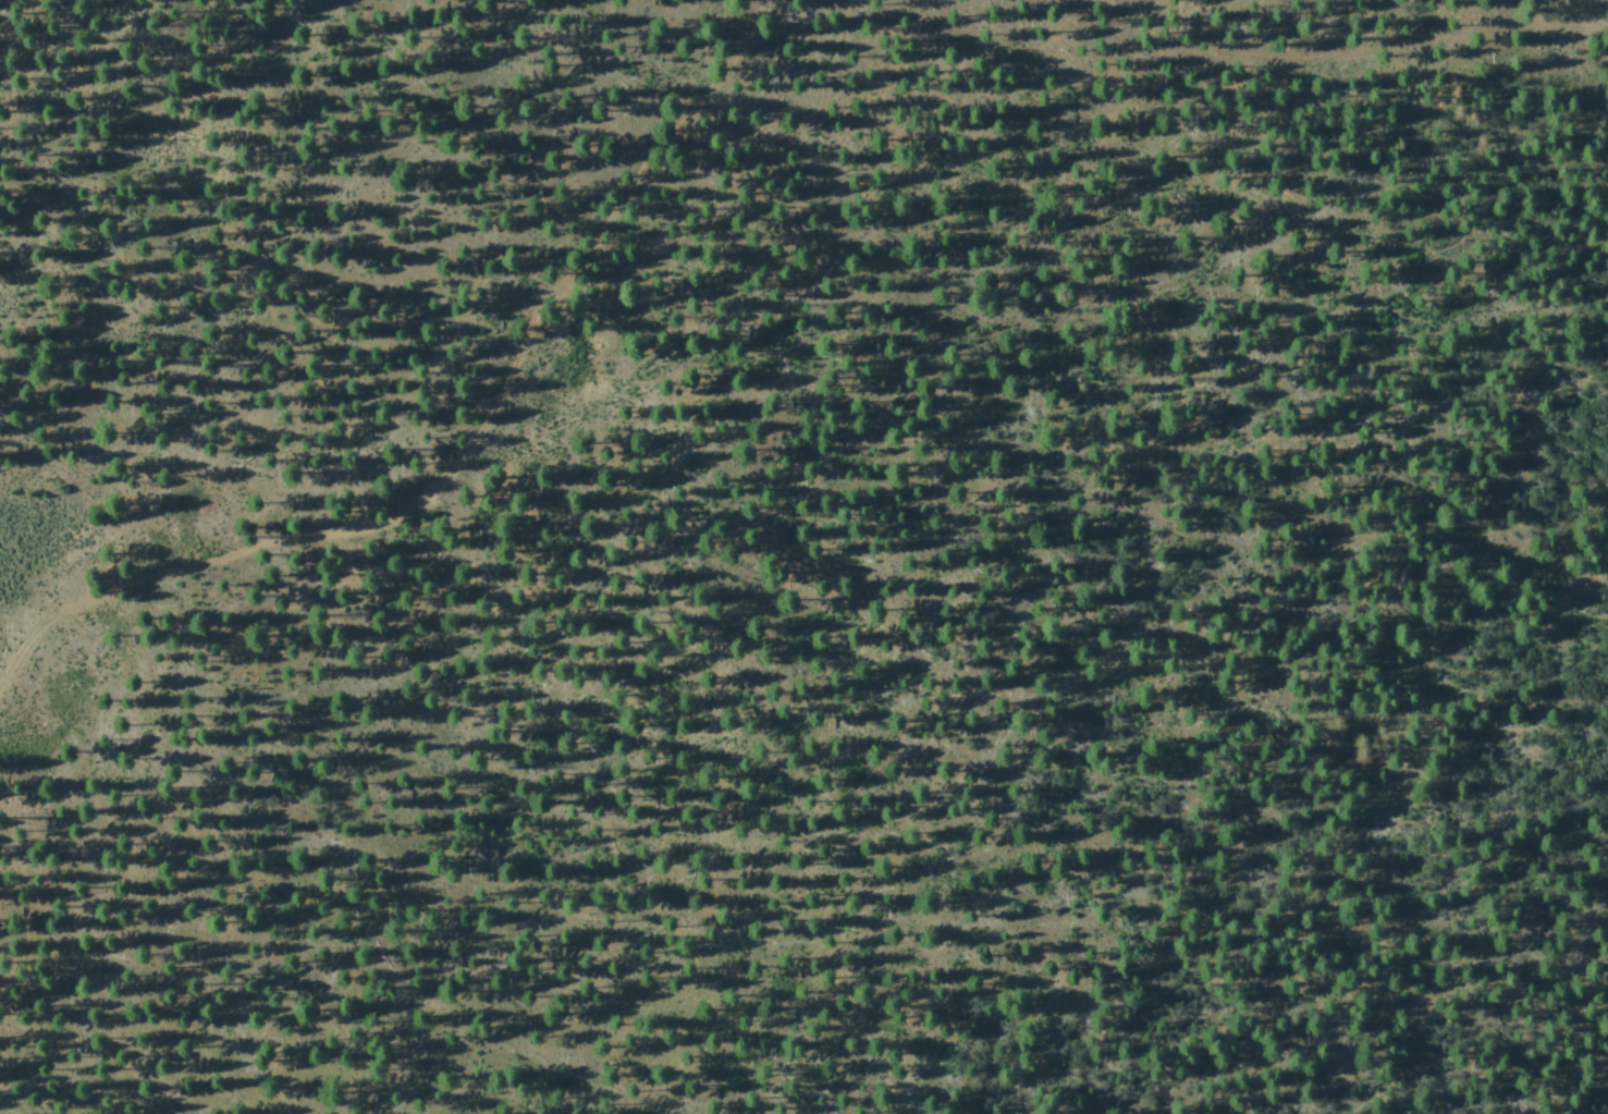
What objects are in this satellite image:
road: (49, 792)

